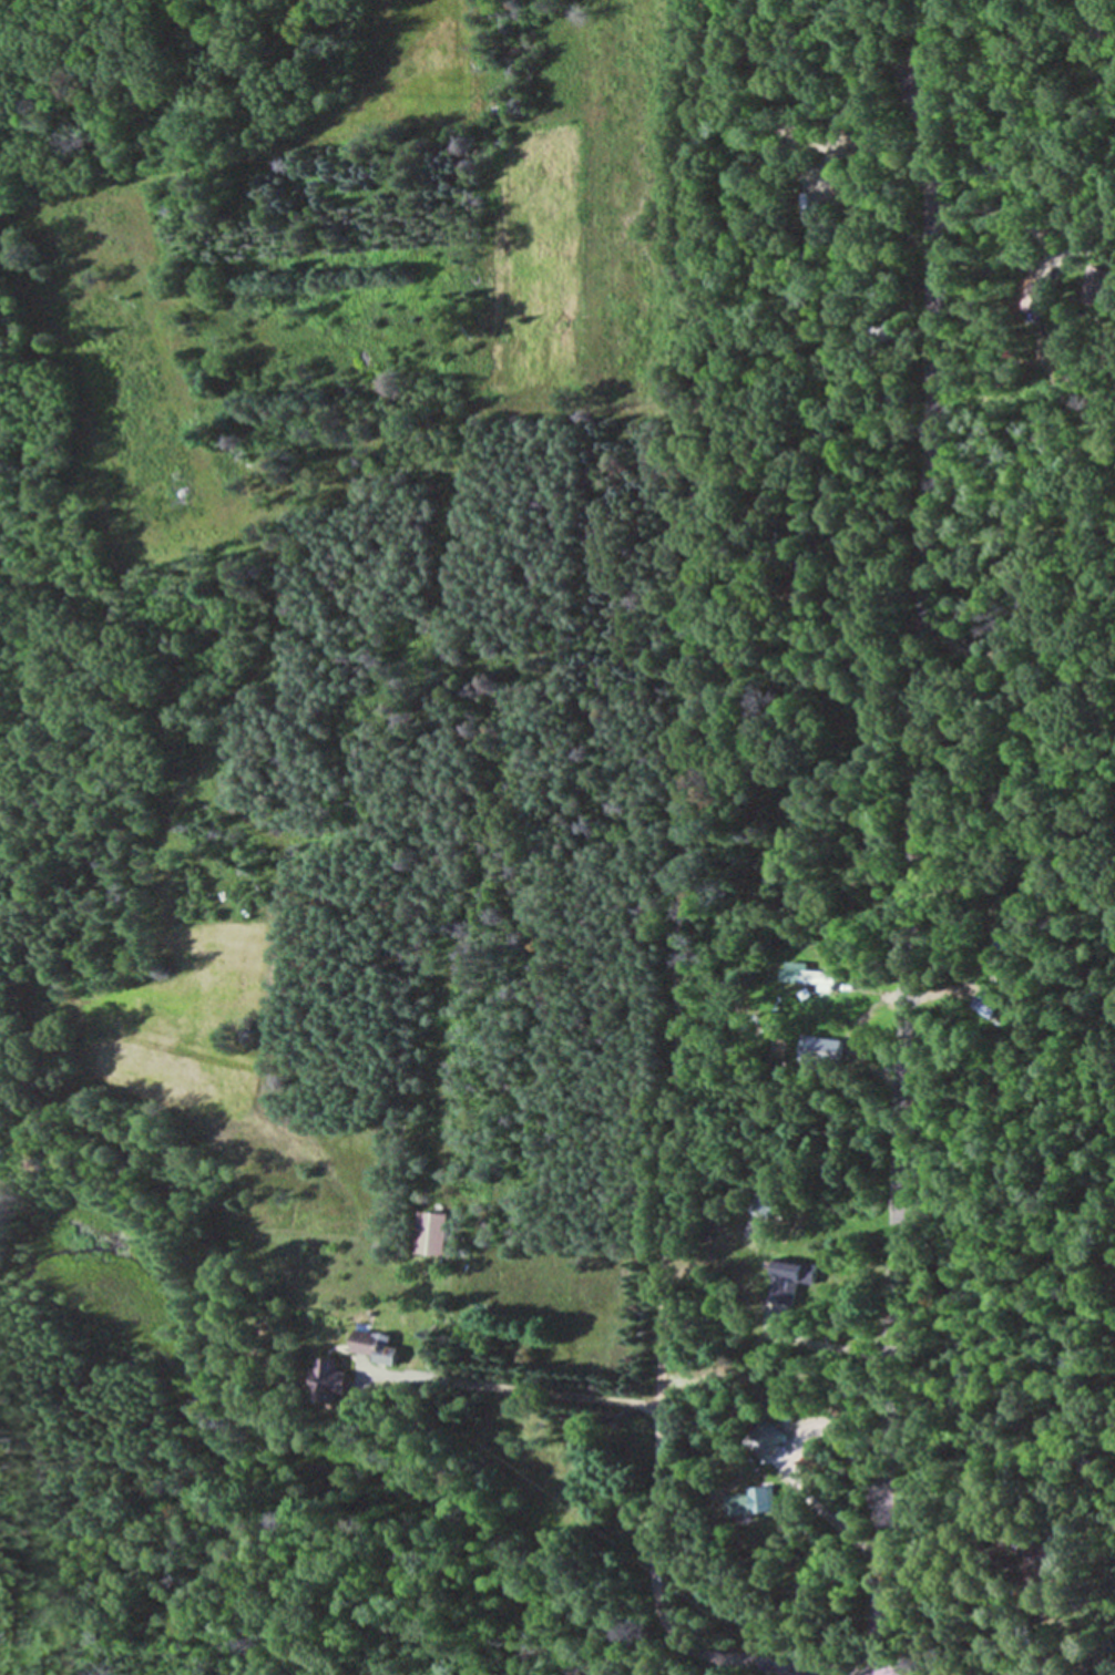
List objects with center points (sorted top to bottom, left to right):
building: (1092, 287)
road: (904, 882)
road: (673, 888)
building: (995, 954)
building: (811, 979)
building: (984, 1005)
building: (819, 1051)
building: (756, 1215)
building: (432, 1233)
building: (788, 1281)
building: (379, 1347)
building: (333, 1381)
road: (514, 1393)
building: (767, 1448)
building: (753, 1503)

